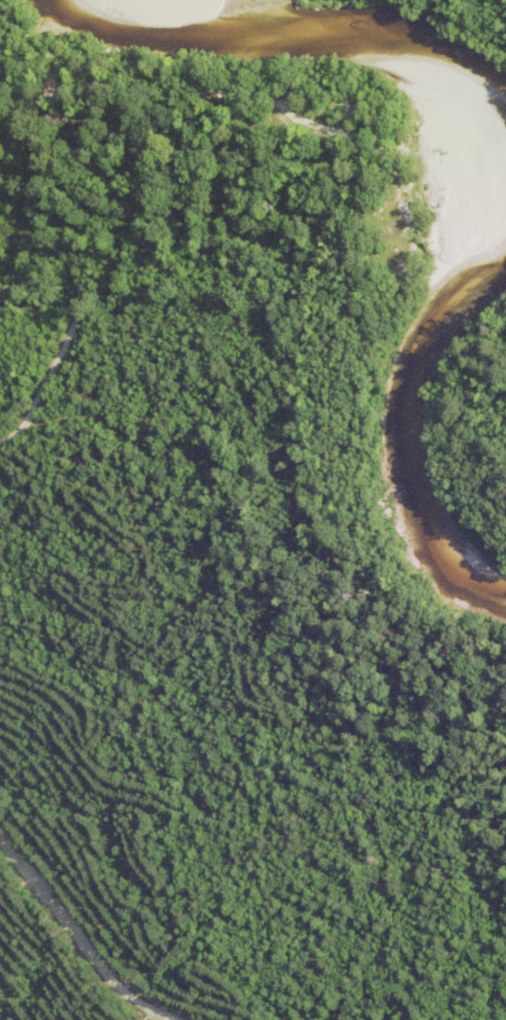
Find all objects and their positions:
river: (280, 45)
building: (57, 67)
river: (414, 430)
road: (74, 936)

